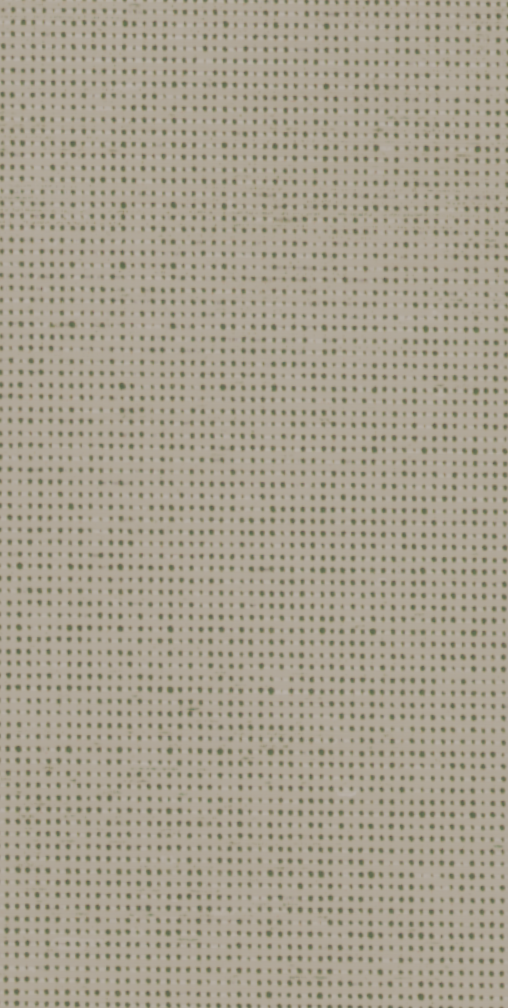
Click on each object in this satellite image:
crop: (254, 504)

